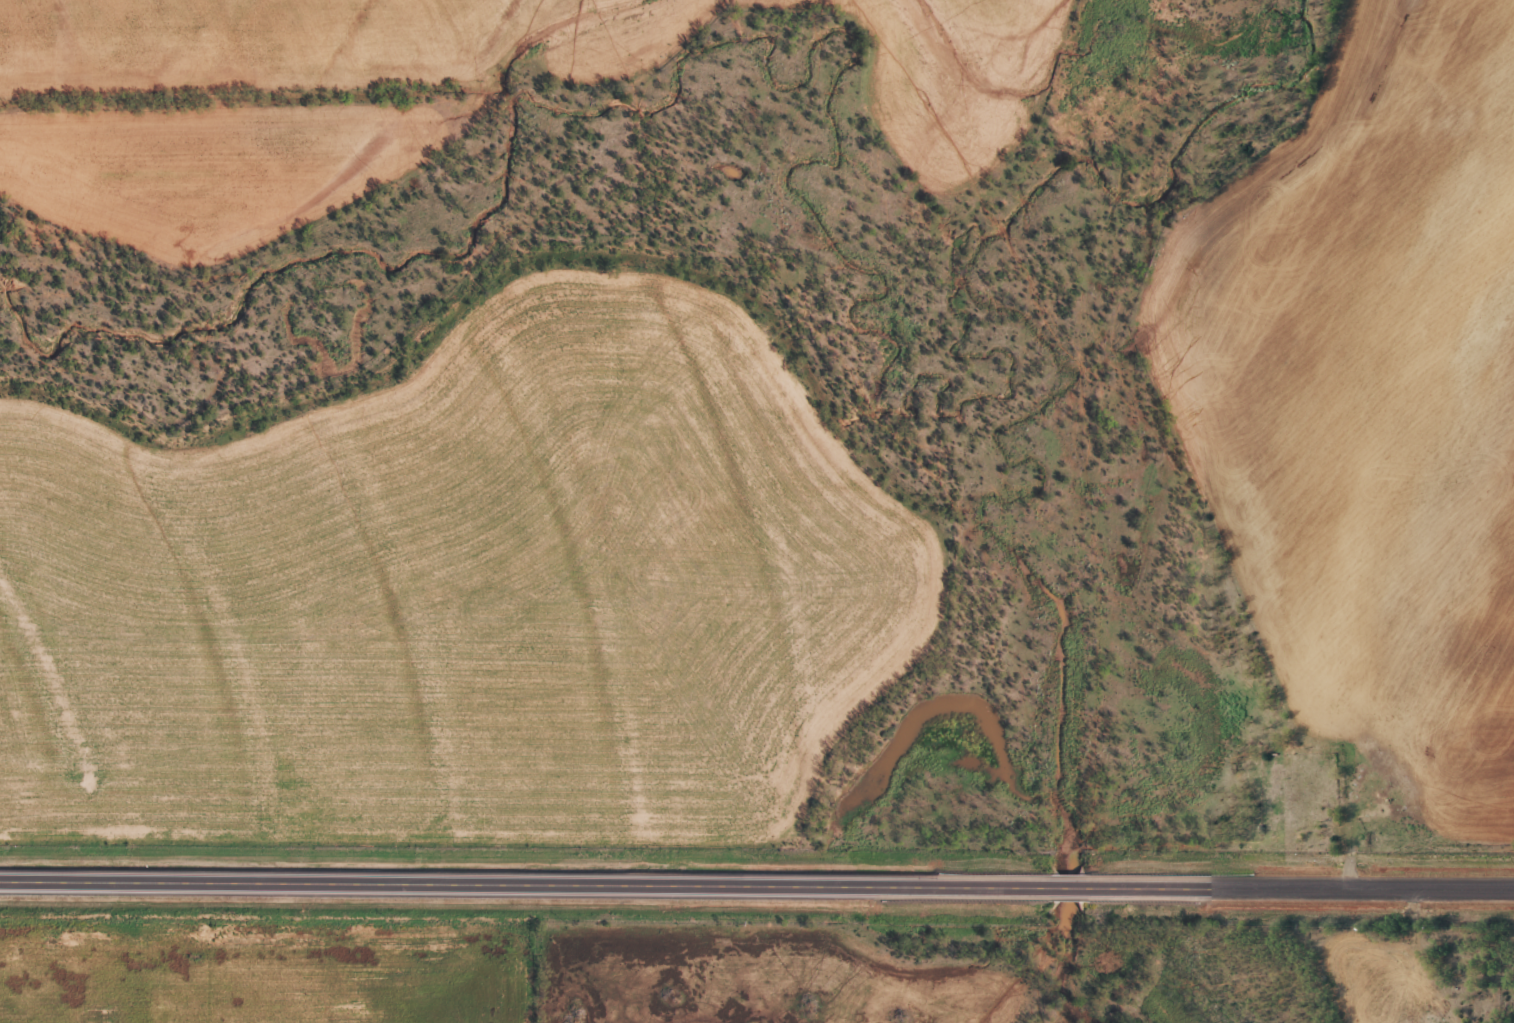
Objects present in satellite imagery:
road: (757, 892)

